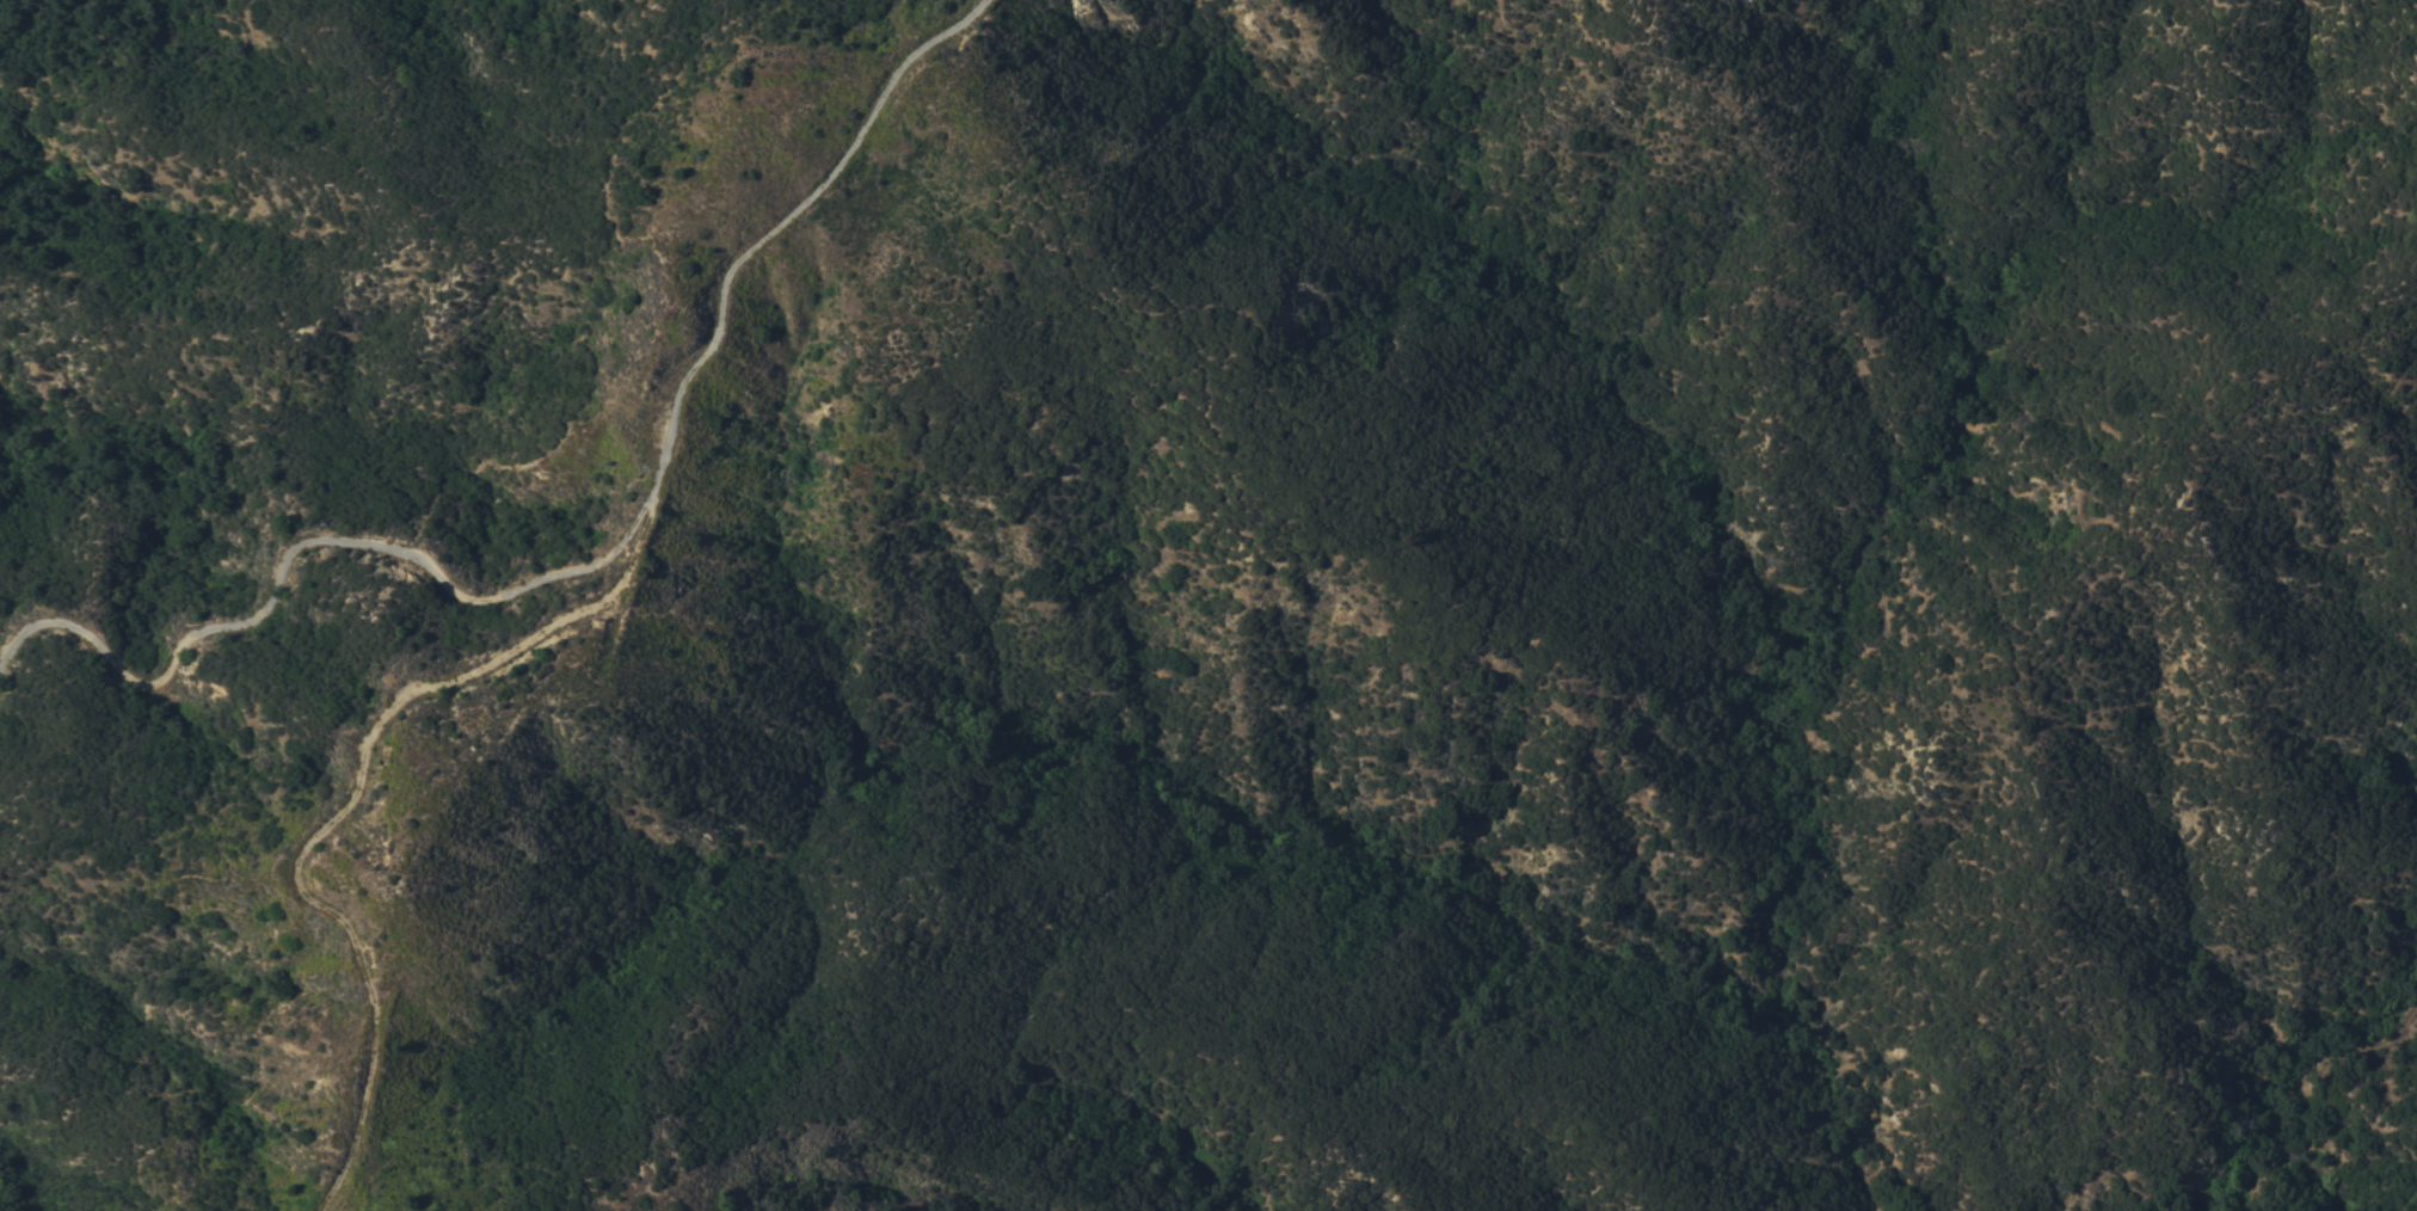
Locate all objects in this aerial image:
road: (777, 228)
road: (321, 576)
road: (351, 810)
road: (2293, 1083)

